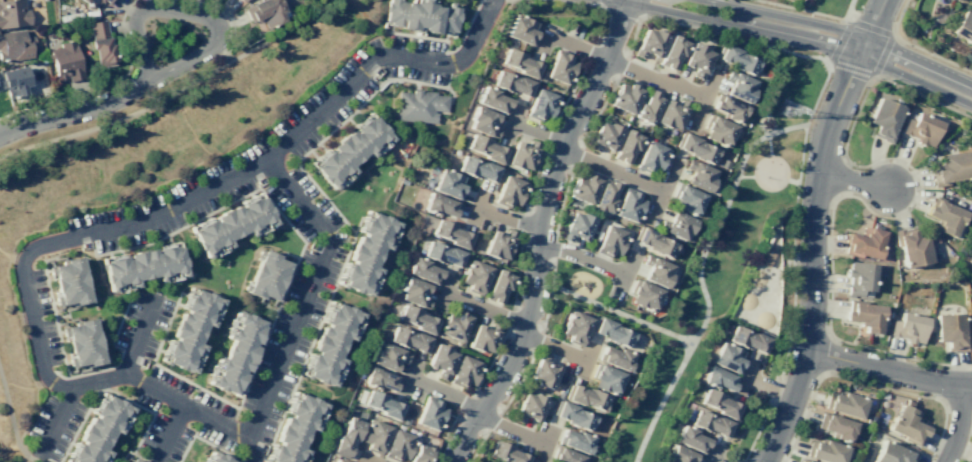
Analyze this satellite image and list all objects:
building: (241, 0)
building: (107, 1)
building: (93, 2)
road: (582, 2)
park: (835, 6)
road: (849, 9)
road: (801, 10)
building: (265, 12)
building: (13, 13)
road: (136, 14)
building: (418, 16)
road: (227, 20)
road: (847, 20)
building: (963, 26)
road: (870, 27)
building: (520, 29)
road: (841, 32)
road: (893, 35)
road: (734, 37)
road: (801, 39)
road: (542, 42)
building: (649, 43)
building: (99, 44)
building: (15, 45)
road: (576, 45)
road: (915, 47)
road: (443, 50)
building: (671, 52)
road: (196, 55)
building: (696, 59)
building: (736, 59)
building: (66, 61)
building: (519, 63)
road: (826, 63)
building: (560, 67)
road: (872, 75)
road: (874, 77)
road: (655, 80)
building: (13, 81)
building: (511, 82)
road: (101, 87)
building: (738, 87)
road: (169, 94)
road: (924, 96)
building: (625, 97)
building: (491, 99)
road: (704, 100)
building: (418, 105)
building: (540, 105)
building: (647, 107)
building: (728, 108)
road: (74, 112)
power tower: (784, 113)
building: (671, 114)
building: (883, 118)
road: (511, 121)
building: (482, 122)
road: (339, 123)
building: (921, 128)
building: (718, 130)
road: (537, 132)
building: (604, 137)
road: (768, 145)
building: (626, 146)
building: (485, 148)
building: (696, 149)
building: (349, 150)
building: (521, 155)
building: (651, 157)
road: (782, 160)
building: (722, 164)
building: (477, 168)
building: (949, 168)
road: (611, 169)
building: (698, 175)
road: (744, 176)
road: (853, 180)
road: (792, 181)
building: (449, 184)
building: (583, 188)
building: (508, 191)
road: (660, 192)
road: (839, 196)
building: (605, 197)
building: (686, 199)
road: (793, 202)
road: (176, 204)
building: (439, 205)
building: (628, 205)
road: (476, 207)
road: (720, 215)
building: (944, 215)
road: (507, 218)
building: (231, 225)
building: (678, 225)
building: (577, 227)
building: (422, 229)
road: (539, 233)
building: (451, 234)
road: (521, 237)
road: (550, 239)
building: (610, 241)
building: (653, 242)
building: (864, 243)
building: (499, 244)
building: (911, 246)
building: (368, 253)
building: (442, 254)
road: (581, 257)
building: (764, 257)
road: (812, 259)
park: (714, 263)
building: (971, 264)
building: (142, 265)
building: (971, 265)
building: (423, 270)
building: (656, 271)
road: (623, 274)
building: (266, 275)
building: (474, 276)
building: (859, 278)
road: (289, 279)
building: (67, 281)
building: (498, 285)
park: (578, 285)
road: (443, 291)
road: (307, 292)
building: (414, 292)
building: (643, 295)
road: (483, 309)
road: (613, 312)
building: (864, 315)
building: (416, 319)
building: (453, 324)
building: (574, 327)
building: (908, 327)
building: (190, 330)
building: (950, 331)
building: (611, 332)
road: (140, 334)
building: (483, 337)
road: (312, 338)
building: (408, 339)
building: (747, 339)
building: (81, 343)
building: (332, 344)
road: (554, 346)
building: (236, 353)
building: (388, 357)
building: (615, 358)
building: (729, 358)
road: (586, 359)
building: (440, 360)
building: (464, 371)
road: (887, 371)
road: (54, 372)
building: (543, 372)
road: (76, 375)
road: (408, 376)
building: (379, 378)
road: (744, 378)
building: (605, 379)
building: (718, 379)
road: (866, 383)
road: (768, 388)
road: (445, 391)
road: (163, 393)
road: (117, 395)
building: (586, 397)
road: (660, 401)
building: (719, 403)
building: (382, 404)
building: (844, 404)
road: (768, 405)
building: (529, 407)
building: (429, 413)
building: (573, 416)
building: (404, 421)
road: (11, 423)
building: (708, 423)
road: (958, 423)
building: (906, 425)
building: (836, 426)
building: (295, 429)
building: (99, 430)
road: (511, 431)
road: (168, 433)
building: (347, 436)
building: (374, 436)
building: (691, 438)
road: (547, 440)
building: (574, 440)
road: (204, 441)
building: (397, 446)
road: (967, 448)
road: (250, 450)
building: (825, 451)
building: (419, 453)
building: (505, 453)
road: (713, 453)
building: (893, 453)
building: (679, 454)
building: (564, 456)
building: (213, 457)
road: (48, 459)
road: (363, 459)
road: (35, 461)
building: (128, 461)
building: (133, 461)
building: (338, 461)
building: (475, 461)
building: (802, 461)

